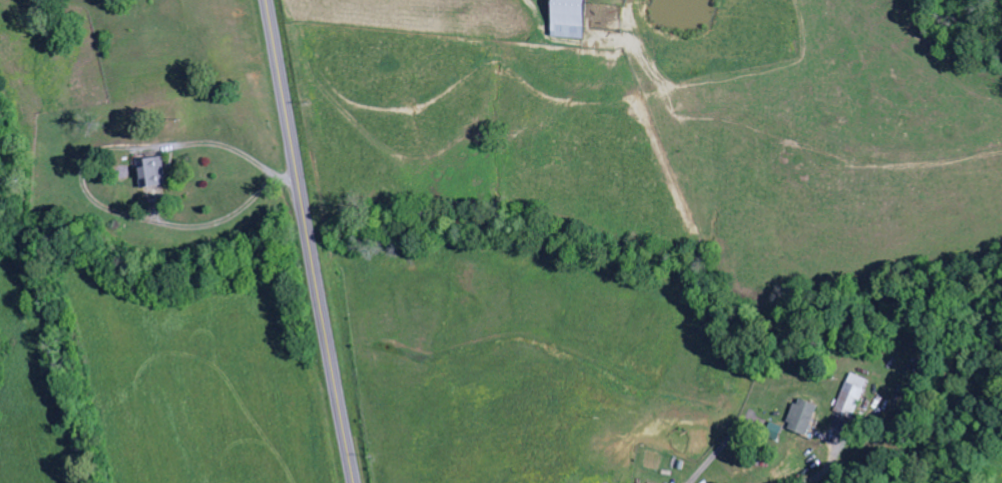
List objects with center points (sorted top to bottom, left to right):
building: (569, 19)
building: (154, 172)
road: (309, 241)
building: (853, 396)
building: (804, 417)
building: (775, 431)

